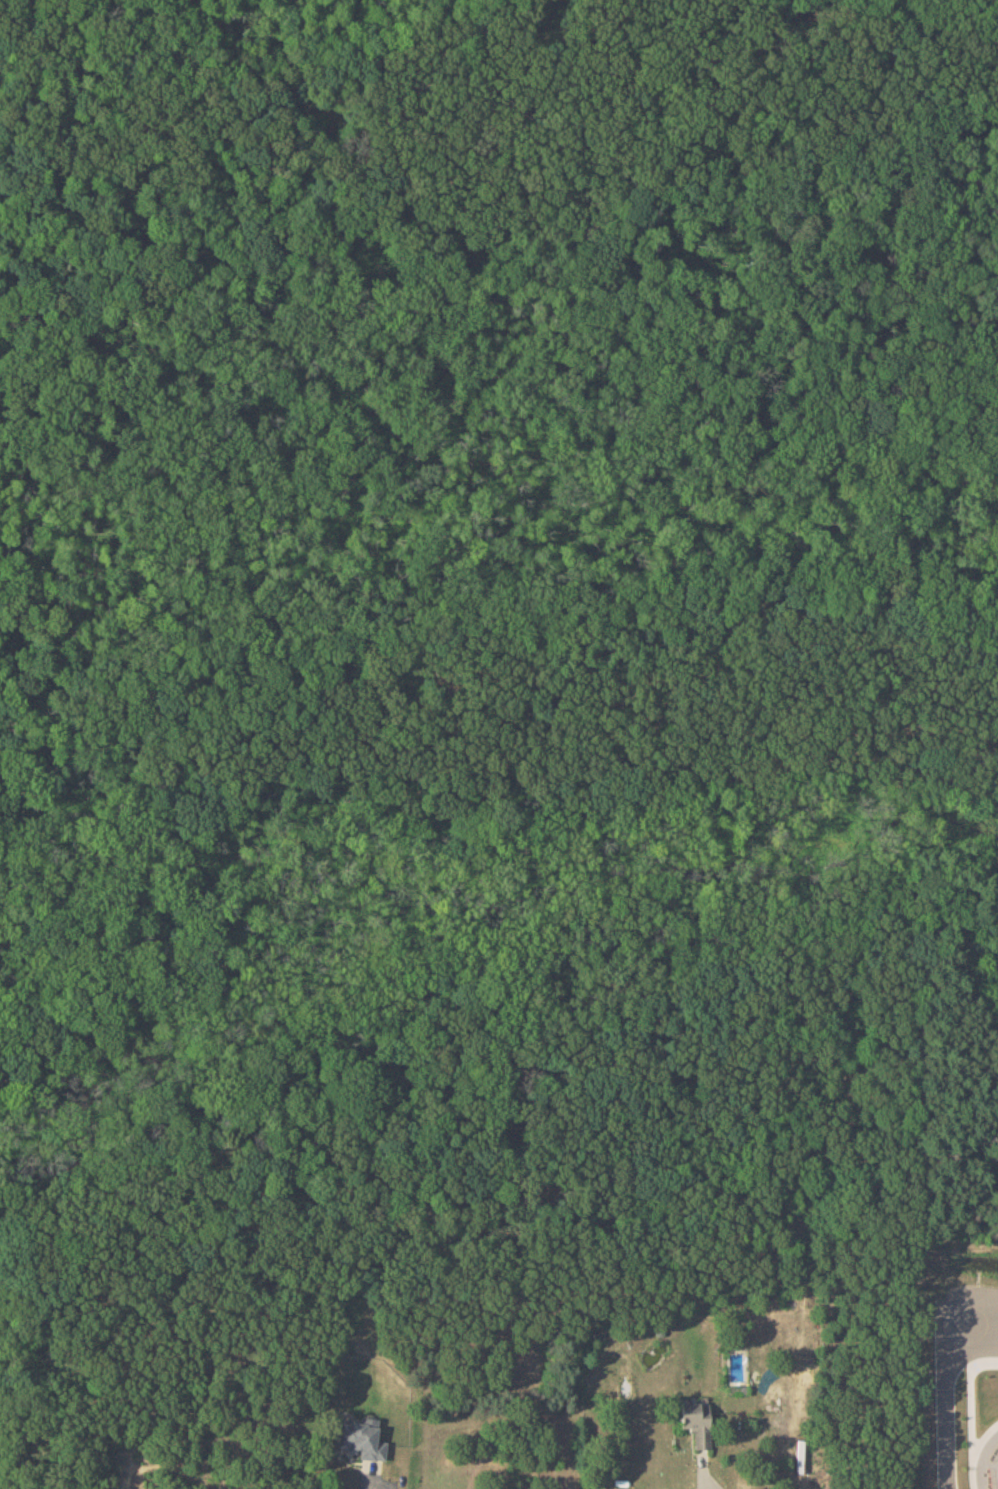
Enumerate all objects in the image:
road: (990, 1297)
road: (969, 1400)
building: (696, 1422)
building: (360, 1440)
road: (974, 1451)

